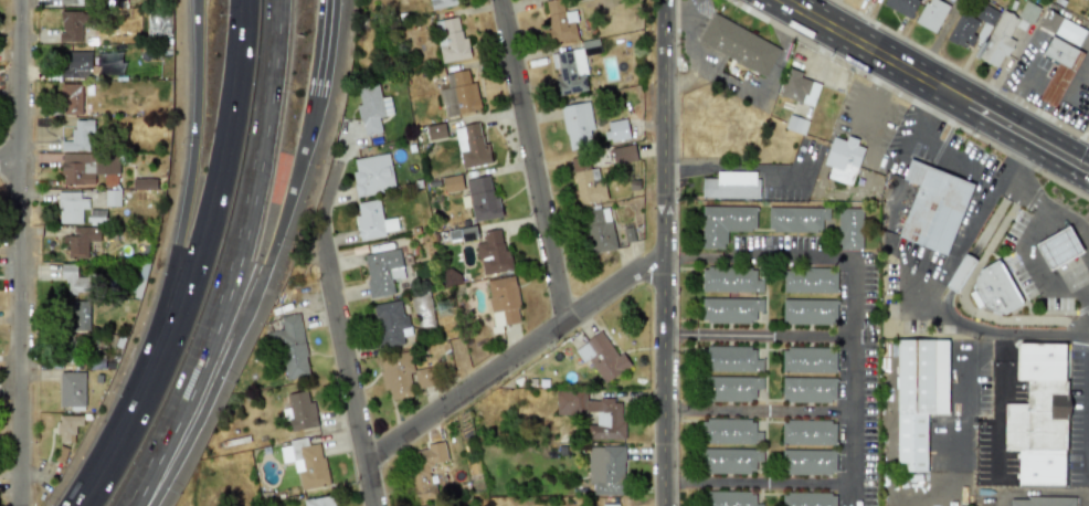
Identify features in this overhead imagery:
building: (951, 0)
building: (953, 0)
building: (76, 1)
building: (442, 3)
building: (901, 6)
building: (931, 14)
building: (986, 14)
building: (559, 21)
building: (72, 27)
building: (1061, 28)
building: (963, 30)
building: (451, 40)
building: (997, 40)
road: (861, 43)
building: (738, 44)
road: (326, 48)
building: (81, 64)
building: (1058, 68)
road: (960, 71)
building: (569, 72)
building: (799, 87)
building: (458, 94)
building: (72, 98)
road: (909, 98)
building: (371, 108)
road: (873, 112)
road: (1016, 116)
building: (578, 124)
road: (920, 127)
building: (616, 129)
building: (435, 131)
building: (80, 135)
road: (1011, 140)
building: (471, 146)
building: (623, 154)
road: (956, 156)
building: (843, 159)
road: (9, 160)
road: (532, 160)
building: (78, 169)
road: (739, 169)
road: (1026, 171)
building: (371, 175)
building: (585, 180)
building: (452, 183)
building: (730, 186)
building: (113, 197)
building: (482, 199)
road: (1035, 201)
building: (71, 205)
building: (933, 207)
building: (97, 217)
building: (796, 219)
building: (372, 220)
building: (723, 223)
building: (848, 228)
building: (599, 230)
road: (962, 236)
building: (78, 242)
building: (1058, 247)
road: (18, 252)
road: (666, 252)
building: (493, 253)
road: (177, 255)
road: (765, 257)
road: (201, 259)
road: (233, 261)
road: (673, 261)
road: (1033, 262)
building: (382, 271)
building: (73, 280)
building: (729, 280)
building: (808, 281)
building: (993, 288)
road: (1082, 298)
building: (503, 302)
road: (964, 303)
road: (255, 308)
power tower: (454, 309)
building: (729, 309)
road: (945, 310)
building: (808, 312)
building: (81, 315)
building: (390, 323)
road: (796, 334)
building: (290, 346)
building: (71, 349)
building: (601, 356)
road: (514, 357)
building: (730, 358)
building: (807, 359)
road: (348, 366)
road: (850, 373)
building: (402, 375)
building: (731, 388)
building: (807, 389)
building: (73, 391)
building: (918, 397)
road: (673, 409)
road: (765, 410)
building: (300, 411)
building: (1038, 414)
building: (607, 415)
road: (955, 426)
building: (67, 429)
building: (727, 431)
building: (807, 431)
road: (852, 447)
road: (1088, 450)
building: (729, 460)
building: (306, 462)
building: (807, 462)
building: (424, 470)
building: (605, 470)
road: (1088, 473)
road: (674, 484)
road: (768, 484)
road: (1044, 493)
building: (730, 498)
building: (807, 499)
building: (319, 500)
building: (1040, 500)
road: (92, 503)
building: (425, 505)
building: (536, 505)

